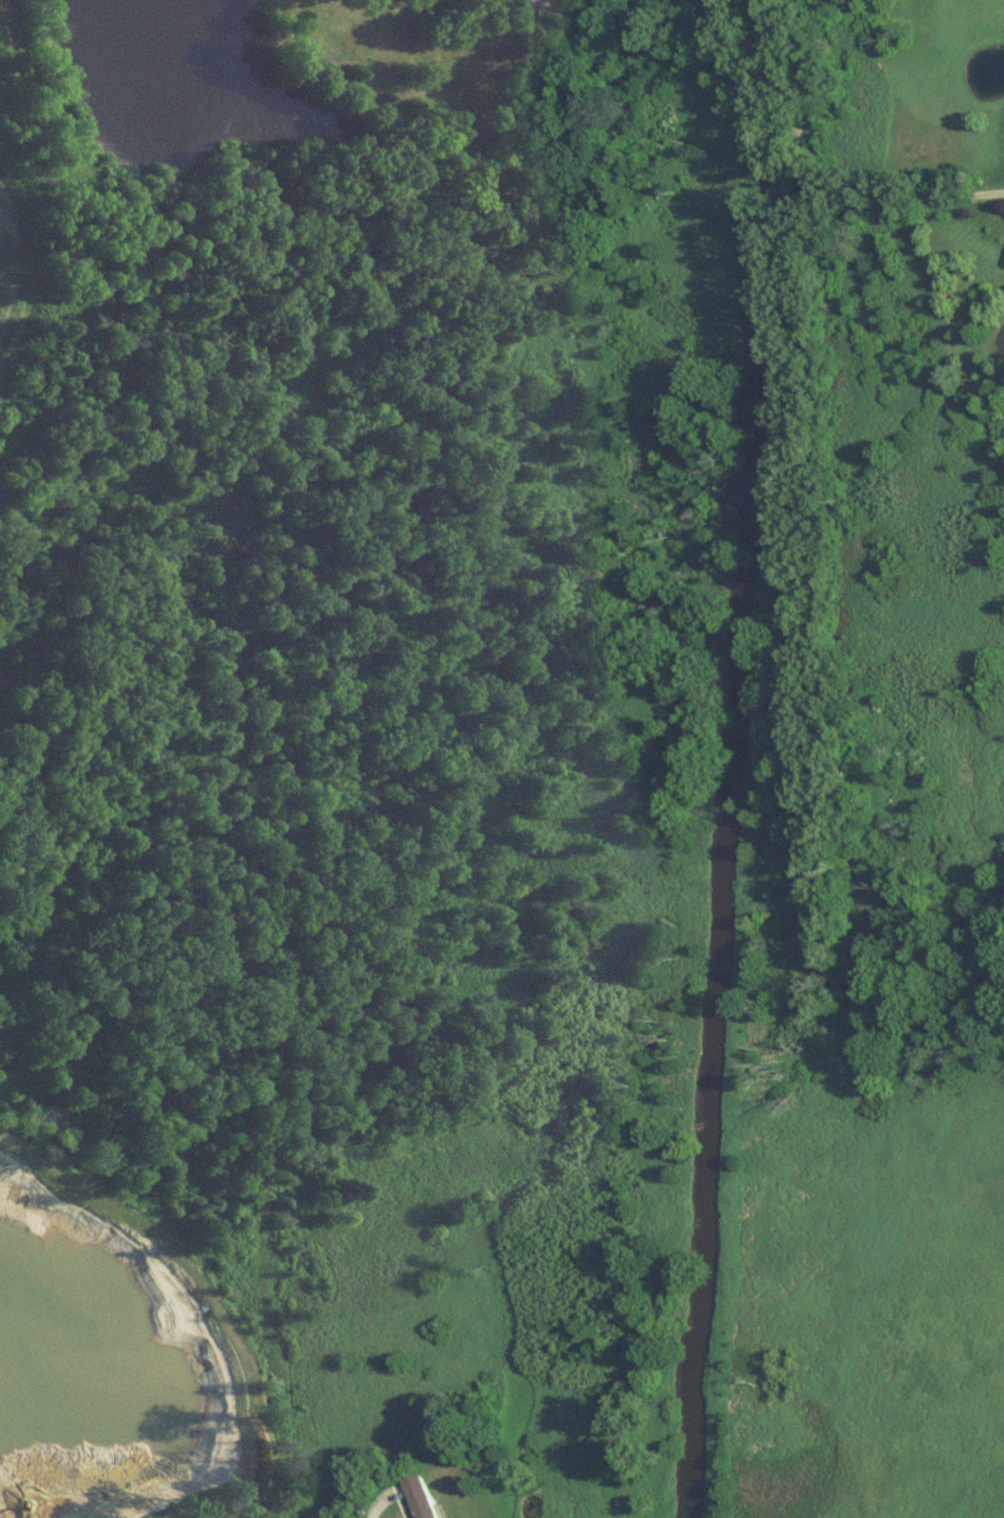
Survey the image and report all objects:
road: (541, 4)
road: (721, 17)
road: (614, 24)
road: (812, 176)
building: (422, 1497)
road: (376, 1509)

